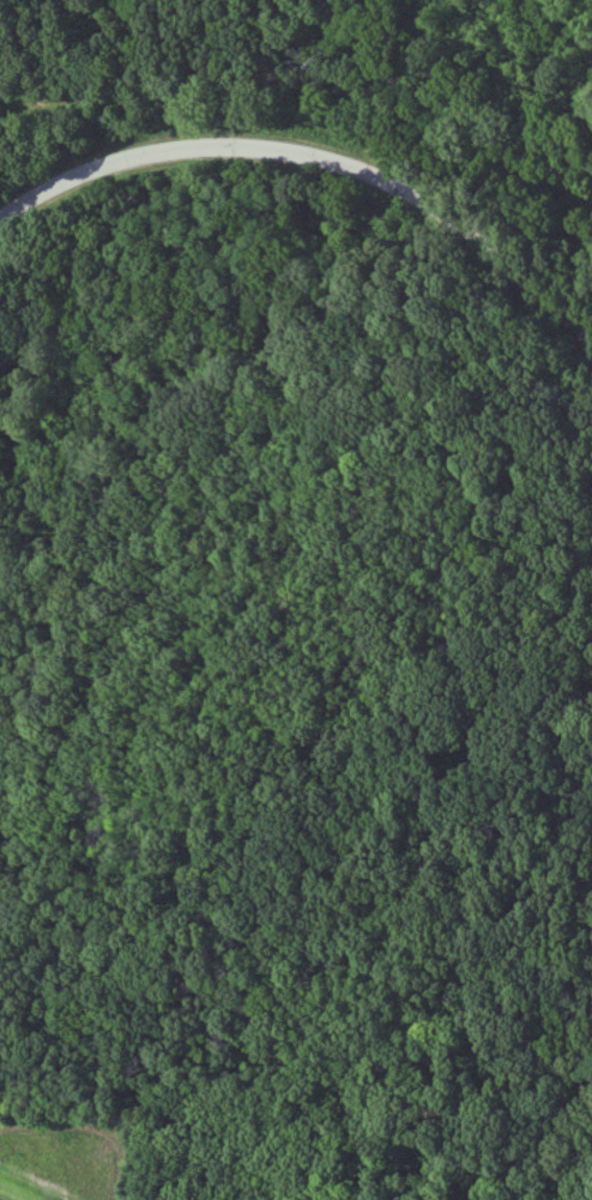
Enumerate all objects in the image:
road: (319, 159)
park: (296, 599)

